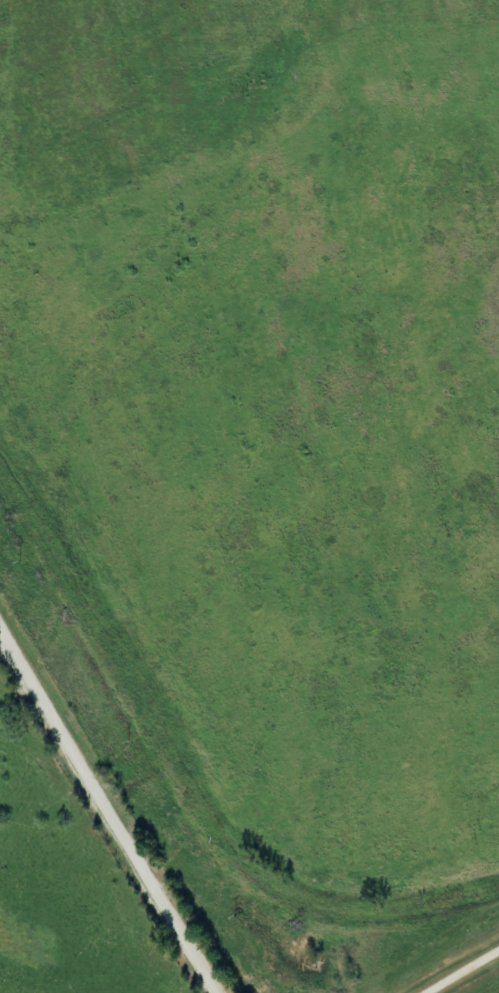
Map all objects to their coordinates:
road: (108, 810)
road: (464, 973)

